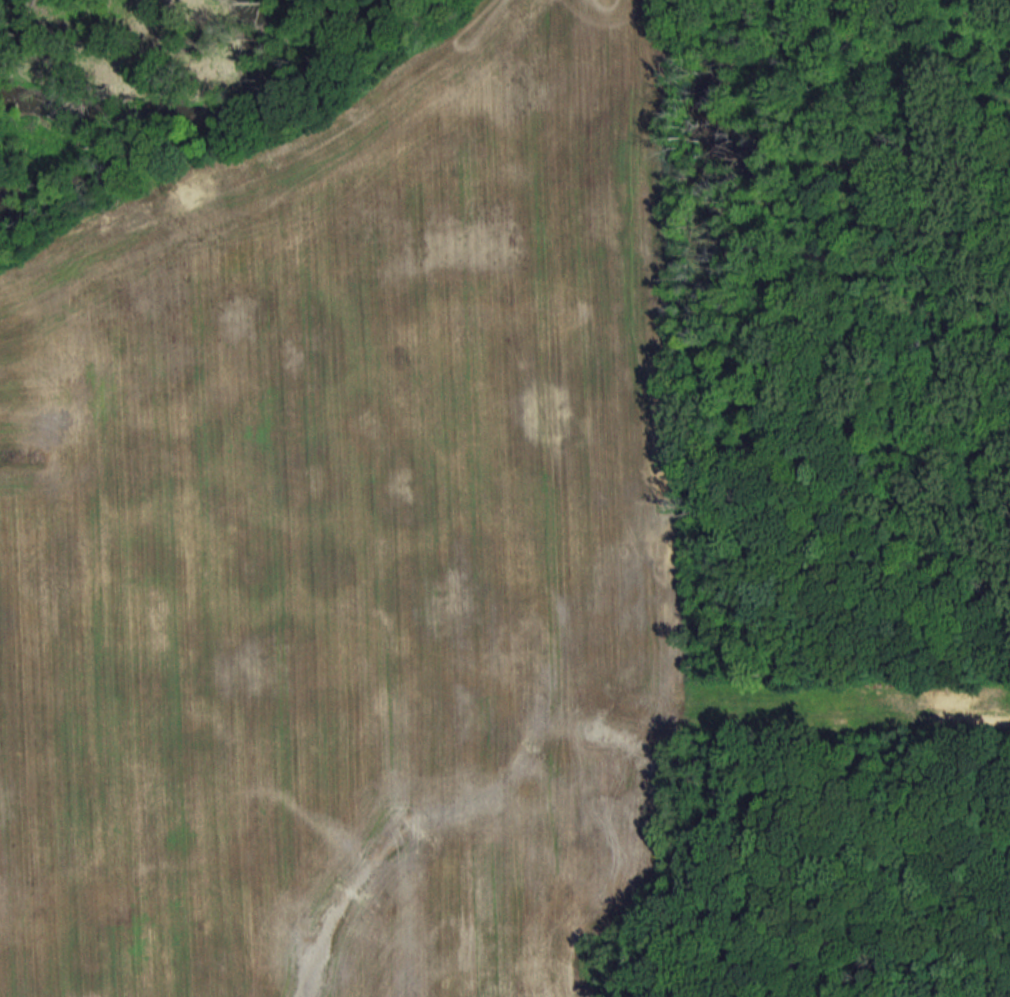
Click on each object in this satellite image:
river: (176, 115)
river: (5, 208)

